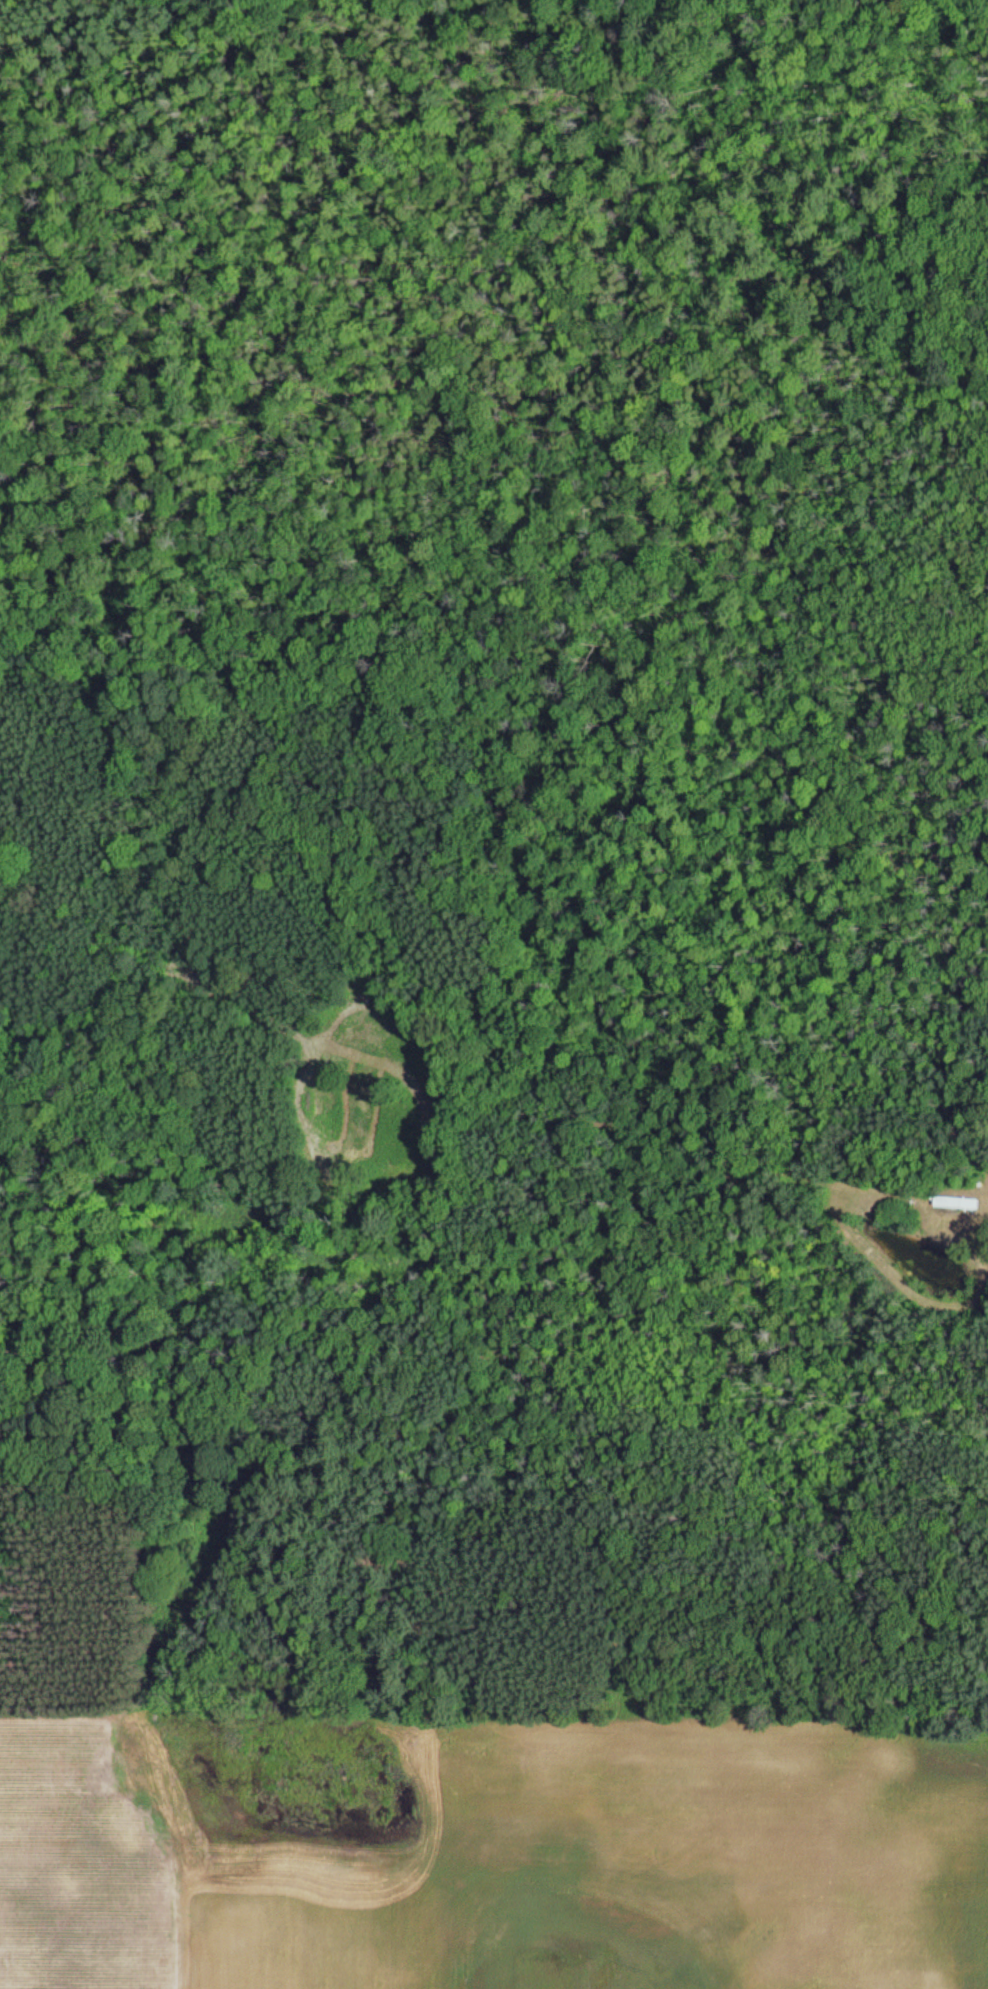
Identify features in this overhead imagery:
building: (973, 1193)

